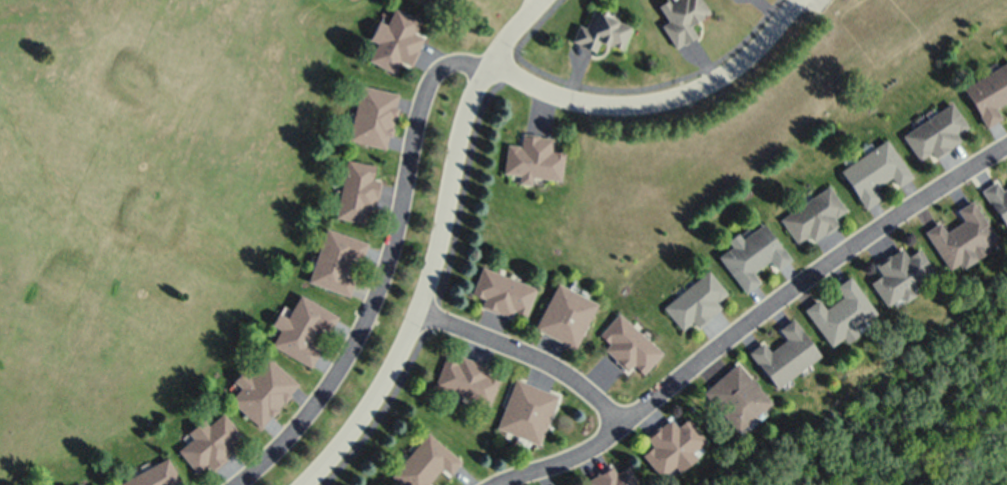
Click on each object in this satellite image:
road: (535, 1)
building: (681, 19)
building: (599, 31)
building: (395, 39)
road: (654, 83)
building: (988, 92)
road: (660, 107)
building: (372, 116)
building: (934, 132)
building: (533, 160)
building: (873, 171)
building: (356, 190)
park: (145, 198)
building: (997, 199)
building: (812, 216)
building: (961, 236)
road: (433, 244)
road: (447, 245)
building: (752, 255)
building: (335, 260)
building: (899, 273)
road: (386, 275)
building: (502, 292)
building: (695, 301)
building: (839, 310)
building: (565, 315)
road: (757, 320)
building: (300, 328)
building: (628, 344)
building: (783, 353)
road: (529, 356)
building: (466, 378)
building: (261, 390)
building: (735, 396)
building: (526, 410)
building: (208, 442)
building: (670, 445)
building: (424, 462)
building: (152, 475)
building: (610, 477)
building: (100, 484)

